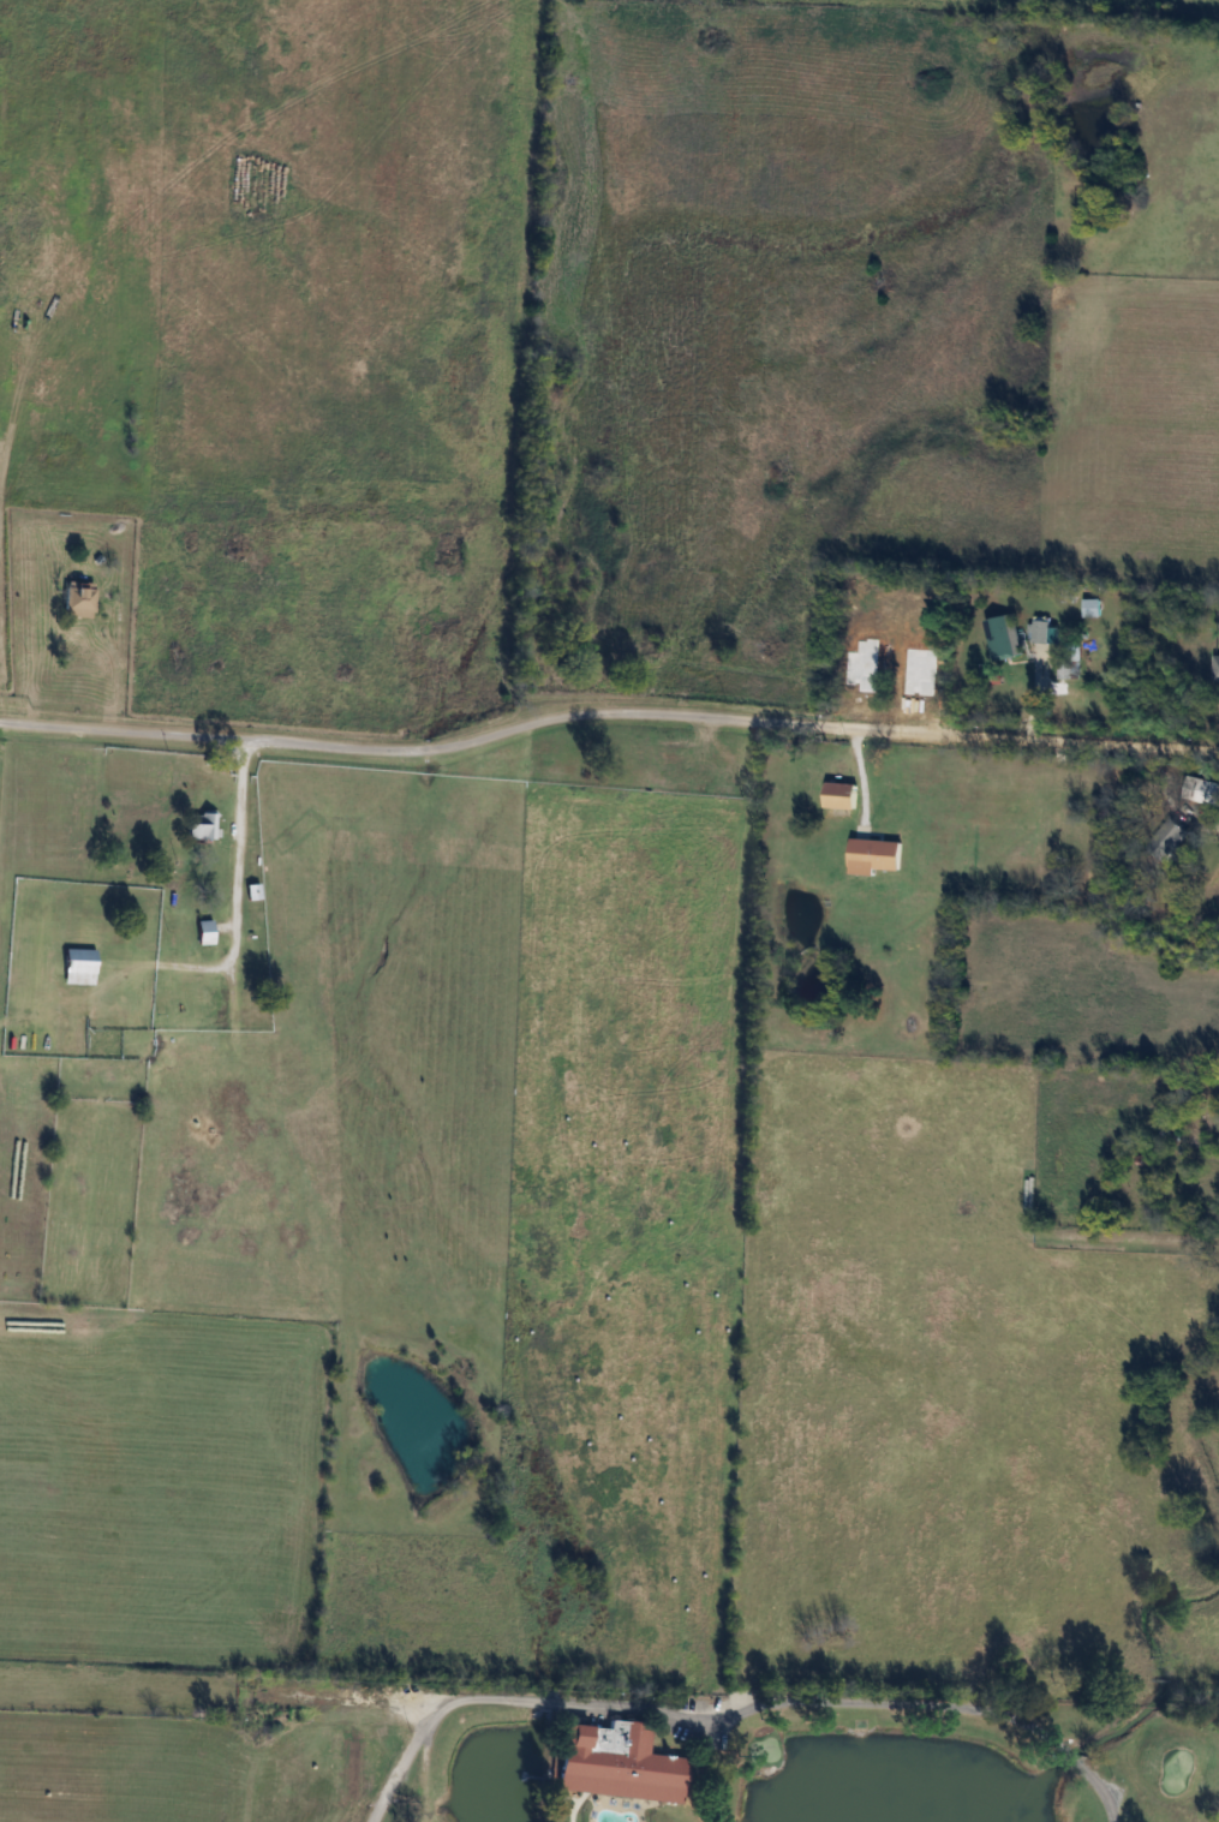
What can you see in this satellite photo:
building: (79, 601)
building: (1092, 607)
building: (1000, 637)
building: (1068, 668)
road: (606, 713)
building: (1207, 790)
building: (839, 800)
building: (202, 825)
building: (1167, 837)
building: (874, 855)
road: (237, 886)
building: (205, 932)
building: (79, 966)
road: (789, 1705)
building: (617, 1763)
road: (400, 1770)

